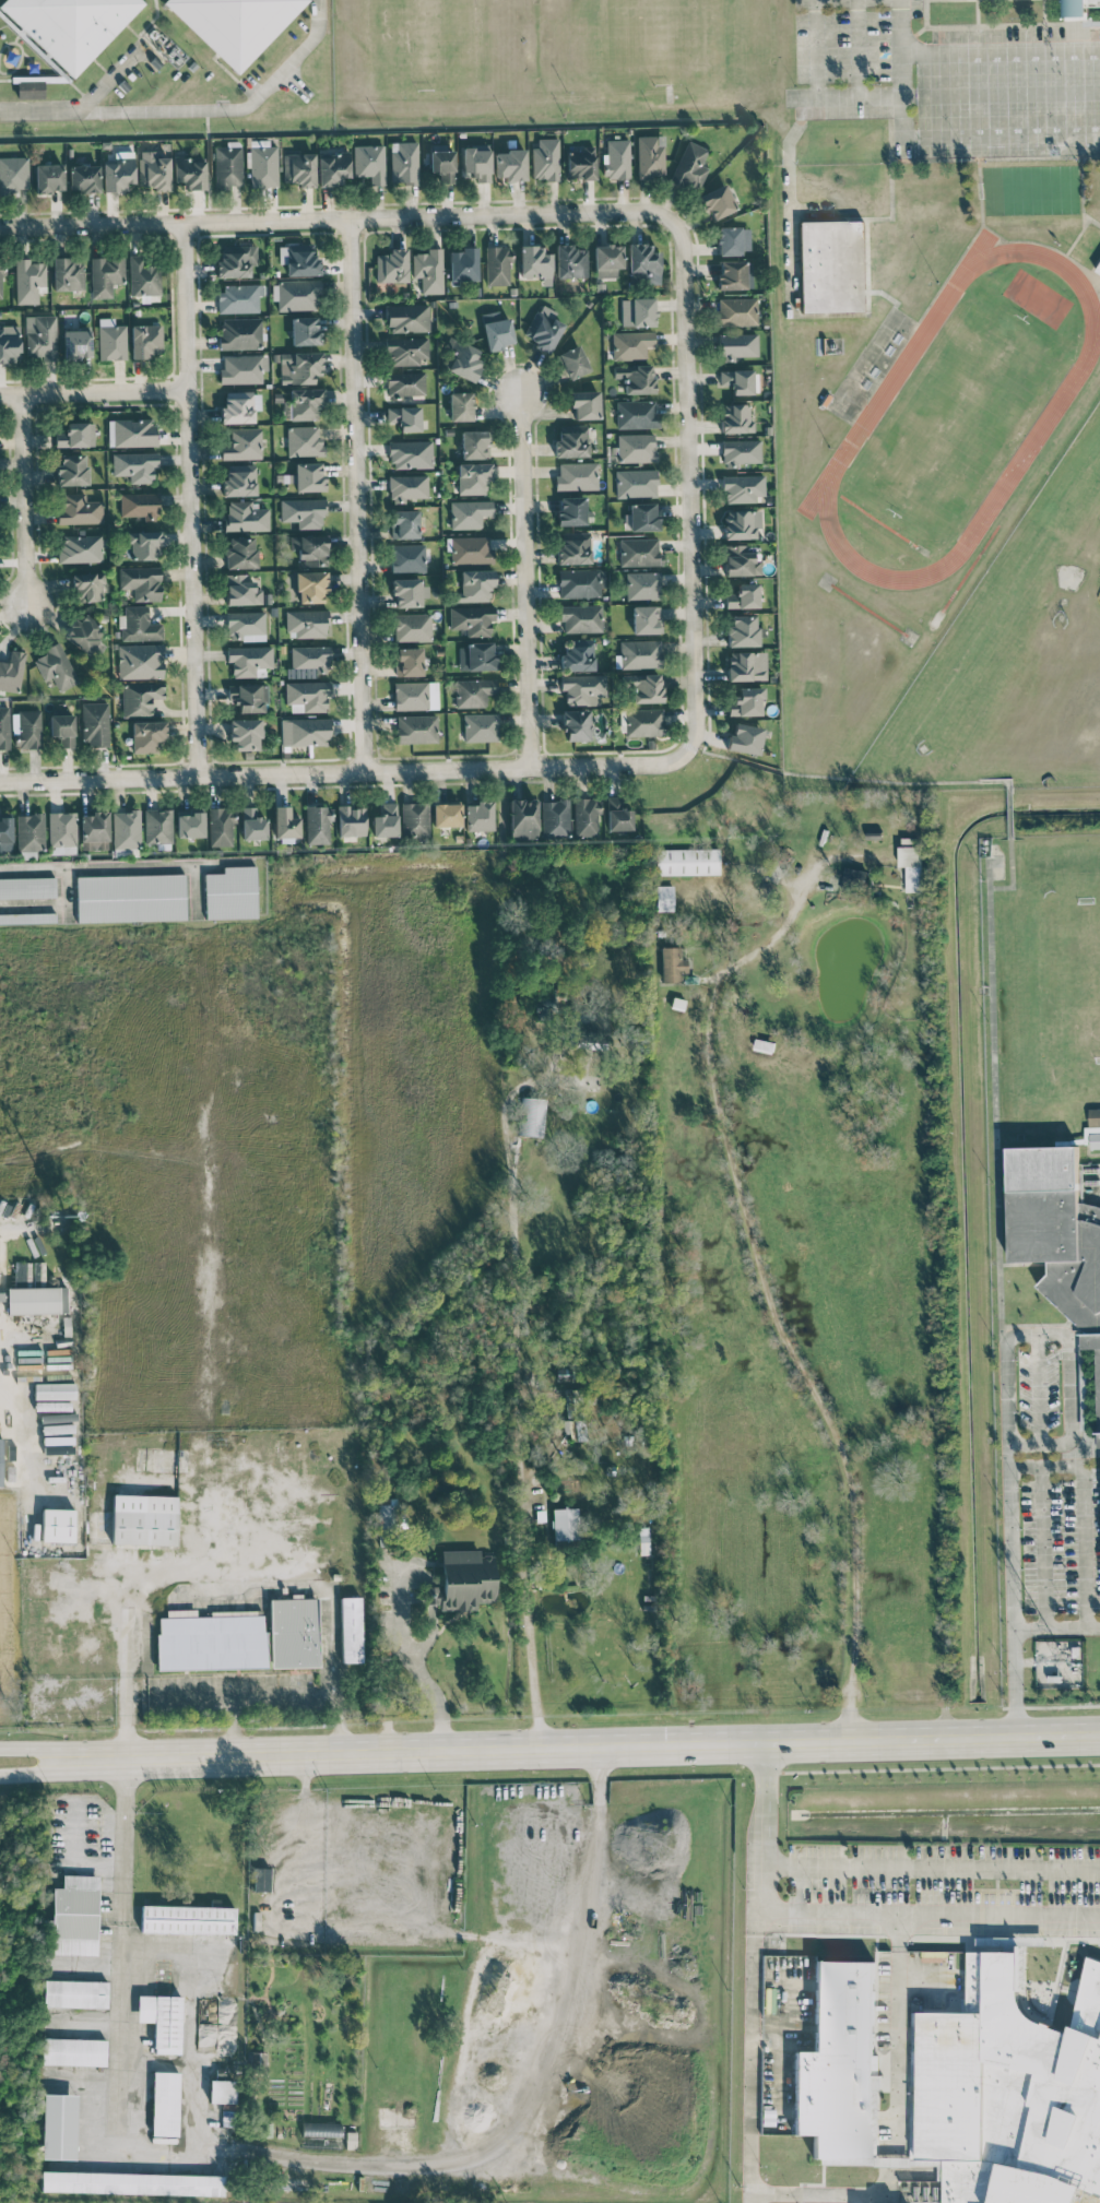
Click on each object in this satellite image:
building: (1081, 4)
building: (235, 24)
building: (70, 25)
road: (308, 37)
road: (815, 47)
road: (855, 47)
road: (1000, 51)
road: (899, 68)
road: (107, 79)
building: (29, 86)
road: (942, 93)
road: (206, 108)
road: (44, 111)
road: (1000, 135)
road: (788, 153)
building: (650, 156)
building: (616, 158)
building: (545, 159)
building: (403, 162)
building: (369, 163)
building: (580, 163)
building: (441, 164)
building: (476, 164)
building: (510, 164)
building: (262, 165)
building: (227, 166)
building: (690, 166)
building: (332, 168)
building: (298, 169)
building: (153, 171)
building: (13, 173)
building: (118, 173)
building: (189, 173)
building: (48, 177)
building: (83, 178)
building: (717, 201)
road: (336, 221)
building: (733, 240)
building: (298, 259)
building: (235, 260)
building: (607, 260)
building: (570, 261)
building: (535, 263)
building: (463, 264)
building: (642, 264)
building: (391, 265)
building: (497, 265)
building: (831, 265)
building: (1098, 269)
building: (428, 270)
building: (67, 274)
building: (735, 274)
building: (105, 275)
building: (143, 277)
building: (0, 280)
building: (28, 281)
building: (295, 295)
building: (239, 297)
building: (637, 311)
building: (736, 311)
building: (407, 318)
building: (305, 330)
building: (496, 330)
building: (543, 331)
building: (239, 333)
building: (39, 336)
building: (111, 340)
building: (145, 340)
building: (9, 343)
building: (76, 343)
building: (630, 344)
building: (736, 345)
building: (405, 351)
building: (572, 362)
building: (298, 366)
building: (243, 368)
building: (636, 378)
building: (738, 380)
building: (405, 384)
road: (92, 392)
building: (305, 403)
building: (584, 404)
building: (460, 405)
building: (239, 406)
building: (636, 414)
track: (1045, 416)
building: (404, 417)
building: (735, 418)
building: (130, 433)
building: (75, 435)
building: (304, 441)
building: (571, 441)
building: (243, 443)
building: (474, 445)
building: (636, 447)
building: (740, 451)
building: (410, 453)
building: (134, 465)
building: (71, 470)
building: (306, 476)
building: (576, 476)
building: (472, 478)
building: (239, 479)
building: (636, 483)
road: (687, 484)
building: (406, 487)
building: (742, 488)
road: (355, 495)
road: (23, 497)
road: (188, 498)
building: (139, 505)
building: (78, 509)
building: (571, 510)
building: (303, 512)
building: (469, 513)
building: (245, 516)
building: (640, 517)
building: (404, 523)
building: (741, 523)
building: (80, 548)
building: (310, 548)
building: (573, 548)
building: (471, 550)
building: (639, 552)
building: (239, 553)
building: (407, 558)
building: (741, 560)
building: (141, 582)
building: (580, 582)
road: (528, 583)
building: (474, 585)
building: (642, 585)
building: (87, 587)
building: (310, 587)
building: (241, 590)
building: (407, 592)
park: (1098, 595)
building: (742, 596)
building: (581, 618)
building: (472, 619)
building: (646, 619)
building: (306, 624)
building: (139, 625)
building: (245, 626)
building: (412, 627)
building: (742, 631)
building: (85, 635)
building: (640, 653)
building: (577, 654)
building: (475, 656)
building: (310, 659)
building: (249, 660)
building: (140, 661)
building: (407, 661)
building: (746, 665)
building: (56, 666)
building: (11, 672)
building: (643, 687)
building: (582, 688)
building: (473, 691)
building: (415, 695)
building: (307, 696)
building: (248, 697)
building: (140, 698)
building: (745, 702)
building: (643, 722)
building: (94, 723)
building: (576, 724)
building: (4, 726)
building: (480, 727)
building: (28, 729)
building: (62, 729)
building: (416, 729)
building: (304, 731)
building: (244, 734)
building: (146, 735)
building: (744, 738)
road: (344, 770)
building: (446, 814)
building: (617, 814)
building: (477, 816)
building: (555, 817)
building: (586, 817)
building: (523, 818)
building: (414, 819)
building: (350, 820)
building: (385, 820)
building: (284, 822)
building: (251, 824)
building: (189, 825)
building: (317, 825)
building: (157, 826)
building: (220, 827)
building: (5, 829)
building: (61, 829)
building: (126, 829)
building: (94, 830)
building: (29, 831)
road: (501, 857)
building: (686, 861)
building: (911, 865)
road: (95, 875)
building: (852, 880)
building: (27, 887)
building: (230, 893)
building: (130, 898)
building: (664, 898)
building: (27, 917)
building: (672, 964)
building: (540, 1007)
road: (992, 1100)
building: (1095, 1127)
building: (1057, 1234)
building: (1, 1260)
road: (511, 1276)
building: (0, 1293)
building: (36, 1300)
road: (780, 1311)
road: (217, 1362)
road: (1037, 1388)
building: (577, 1412)
road: (1006, 1424)
road: (22, 1435)
building: (57, 1444)
road: (173, 1484)
road: (1080, 1509)
building: (385, 1515)
building: (143, 1519)
building: (564, 1524)
building: (57, 1525)
road: (1041, 1547)
road: (524, 1575)
building: (462, 1580)
road: (192, 1592)
road: (1055, 1626)
building: (350, 1630)
building: (293, 1632)
road: (429, 1638)
building: (212, 1641)
road: (412, 1658)
road: (213, 1698)
road: (1057, 1734)
road: (959, 1738)
road: (513, 1748)
road: (62, 1750)
road: (62, 1767)
road: (939, 1767)
road: (770, 1772)
road: (63, 1839)
road: (931, 1866)
building: (261, 1879)
parking lot: (944, 1888)
road: (995, 1888)
road: (848, 1910)
road: (981, 1911)
building: (74, 1916)
building: (187, 1919)
road: (789, 1920)
road: (898, 1930)
road: (837, 1933)
road: (897, 1934)
road: (980, 1936)
road: (1003, 1940)
road: (150, 1961)
building: (1020, 1969)
road: (924, 1978)
road: (1056, 1980)
building: (74, 1993)
building: (162, 2021)
parking lot: (903, 2023)
road: (781, 2024)
road: (92, 2025)
road: (780, 2034)
building: (914, 2047)
road: (896, 2048)
building: (73, 2051)
road: (753, 2054)
road: (198, 2060)
building: (838, 2063)
building: (222, 2091)
building: (1010, 2092)
road: (536, 2100)
building: (165, 2104)
building: (875, 2112)
building: (913, 2123)
building: (59, 2127)
building: (321, 2134)
road: (128, 2159)
road: (825, 2161)
road: (892, 2161)
road: (934, 2161)
building: (132, 2182)
road: (800, 2193)
road: (845, 2193)
road: (855, 2199)
road: (1086, 2200)
road: (799, 2202)

